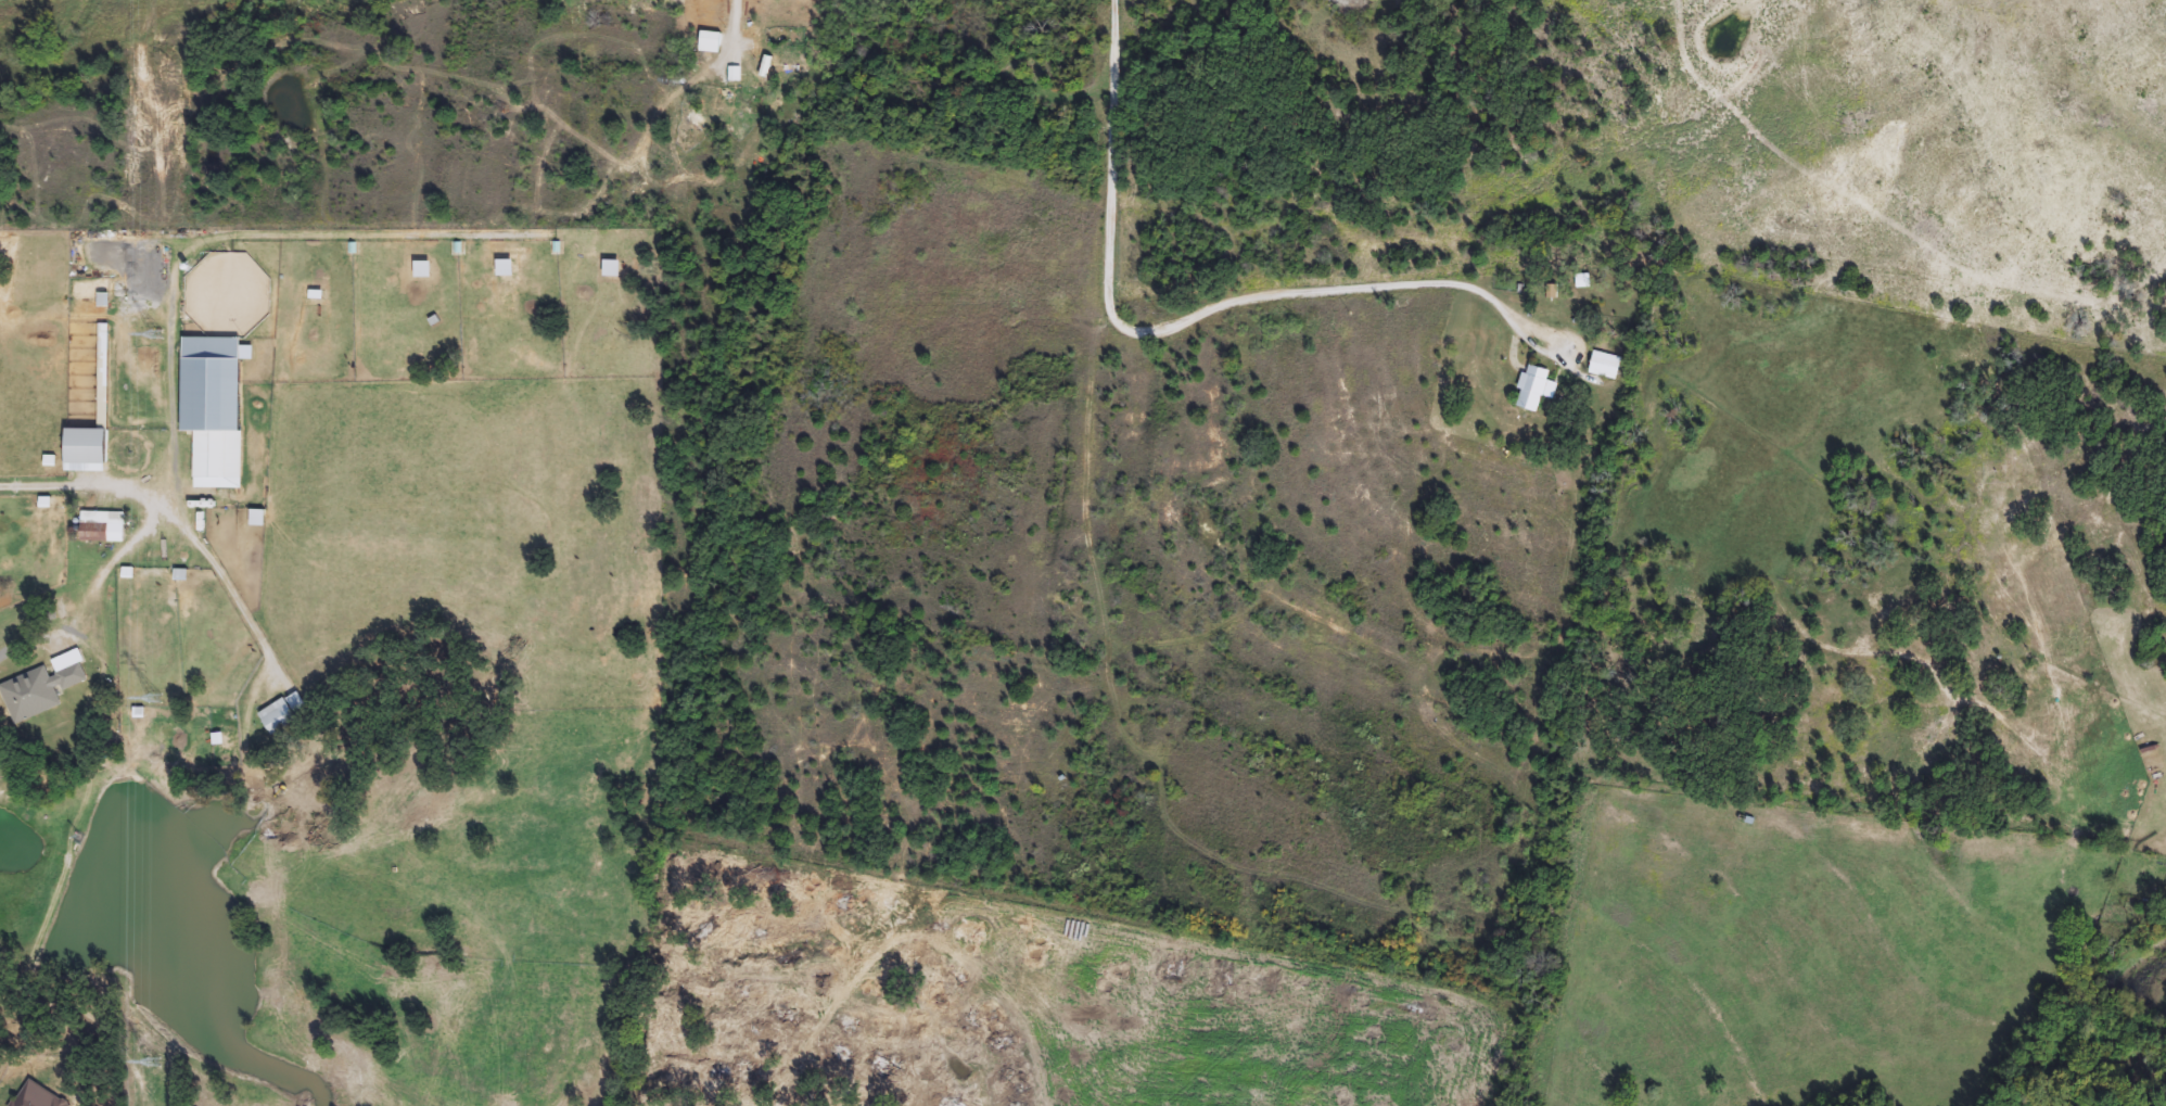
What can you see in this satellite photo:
building: (713, 43)
road: (1177, 328)
power tower: (155, 341)
building: (1607, 366)
building: (1538, 389)
building: (216, 408)
building: (90, 450)
road: (59, 490)
building: (104, 527)
road: (208, 567)
road: (9, 657)
building: (44, 687)
power tower: (155, 714)
building: (280, 716)
power tower: (155, 1071)
building: (46, 1098)
building: (17, 1105)

